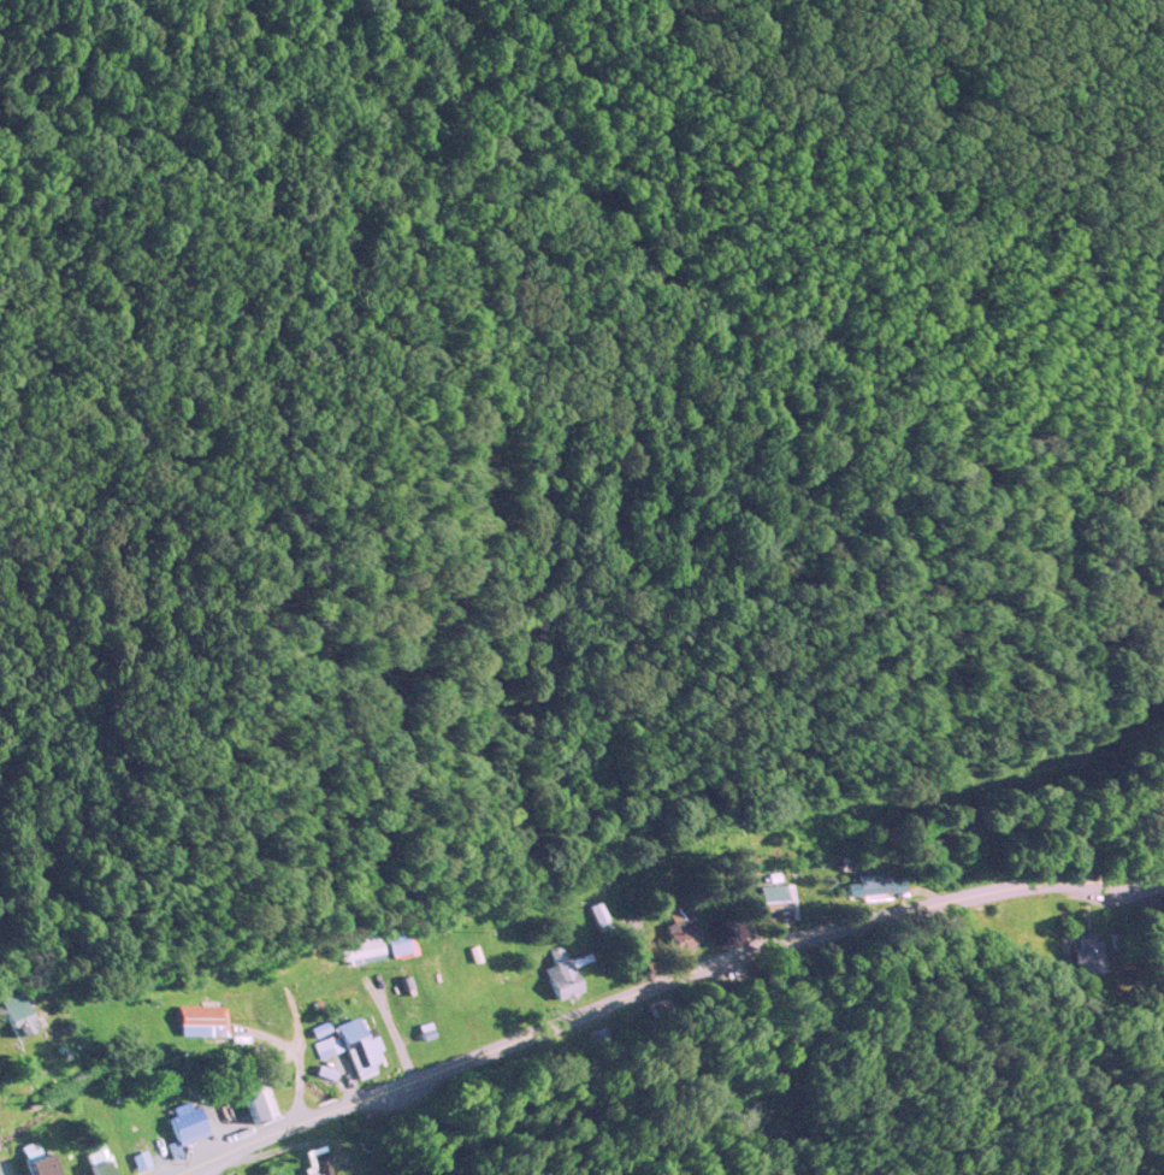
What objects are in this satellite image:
building: (778, 901)
building: (597, 913)
building: (679, 926)
building: (397, 939)
building: (360, 949)
building: (1085, 955)
building: (562, 970)
road: (654, 982)
building: (16, 1011)
building: (488, 1011)
building: (200, 1017)
building: (467, 1023)
building: (359, 1043)
building: (326, 1044)
building: (255, 1099)
building: (185, 1118)
building: (321, 1158)
building: (37, 1159)
building: (99, 1162)

